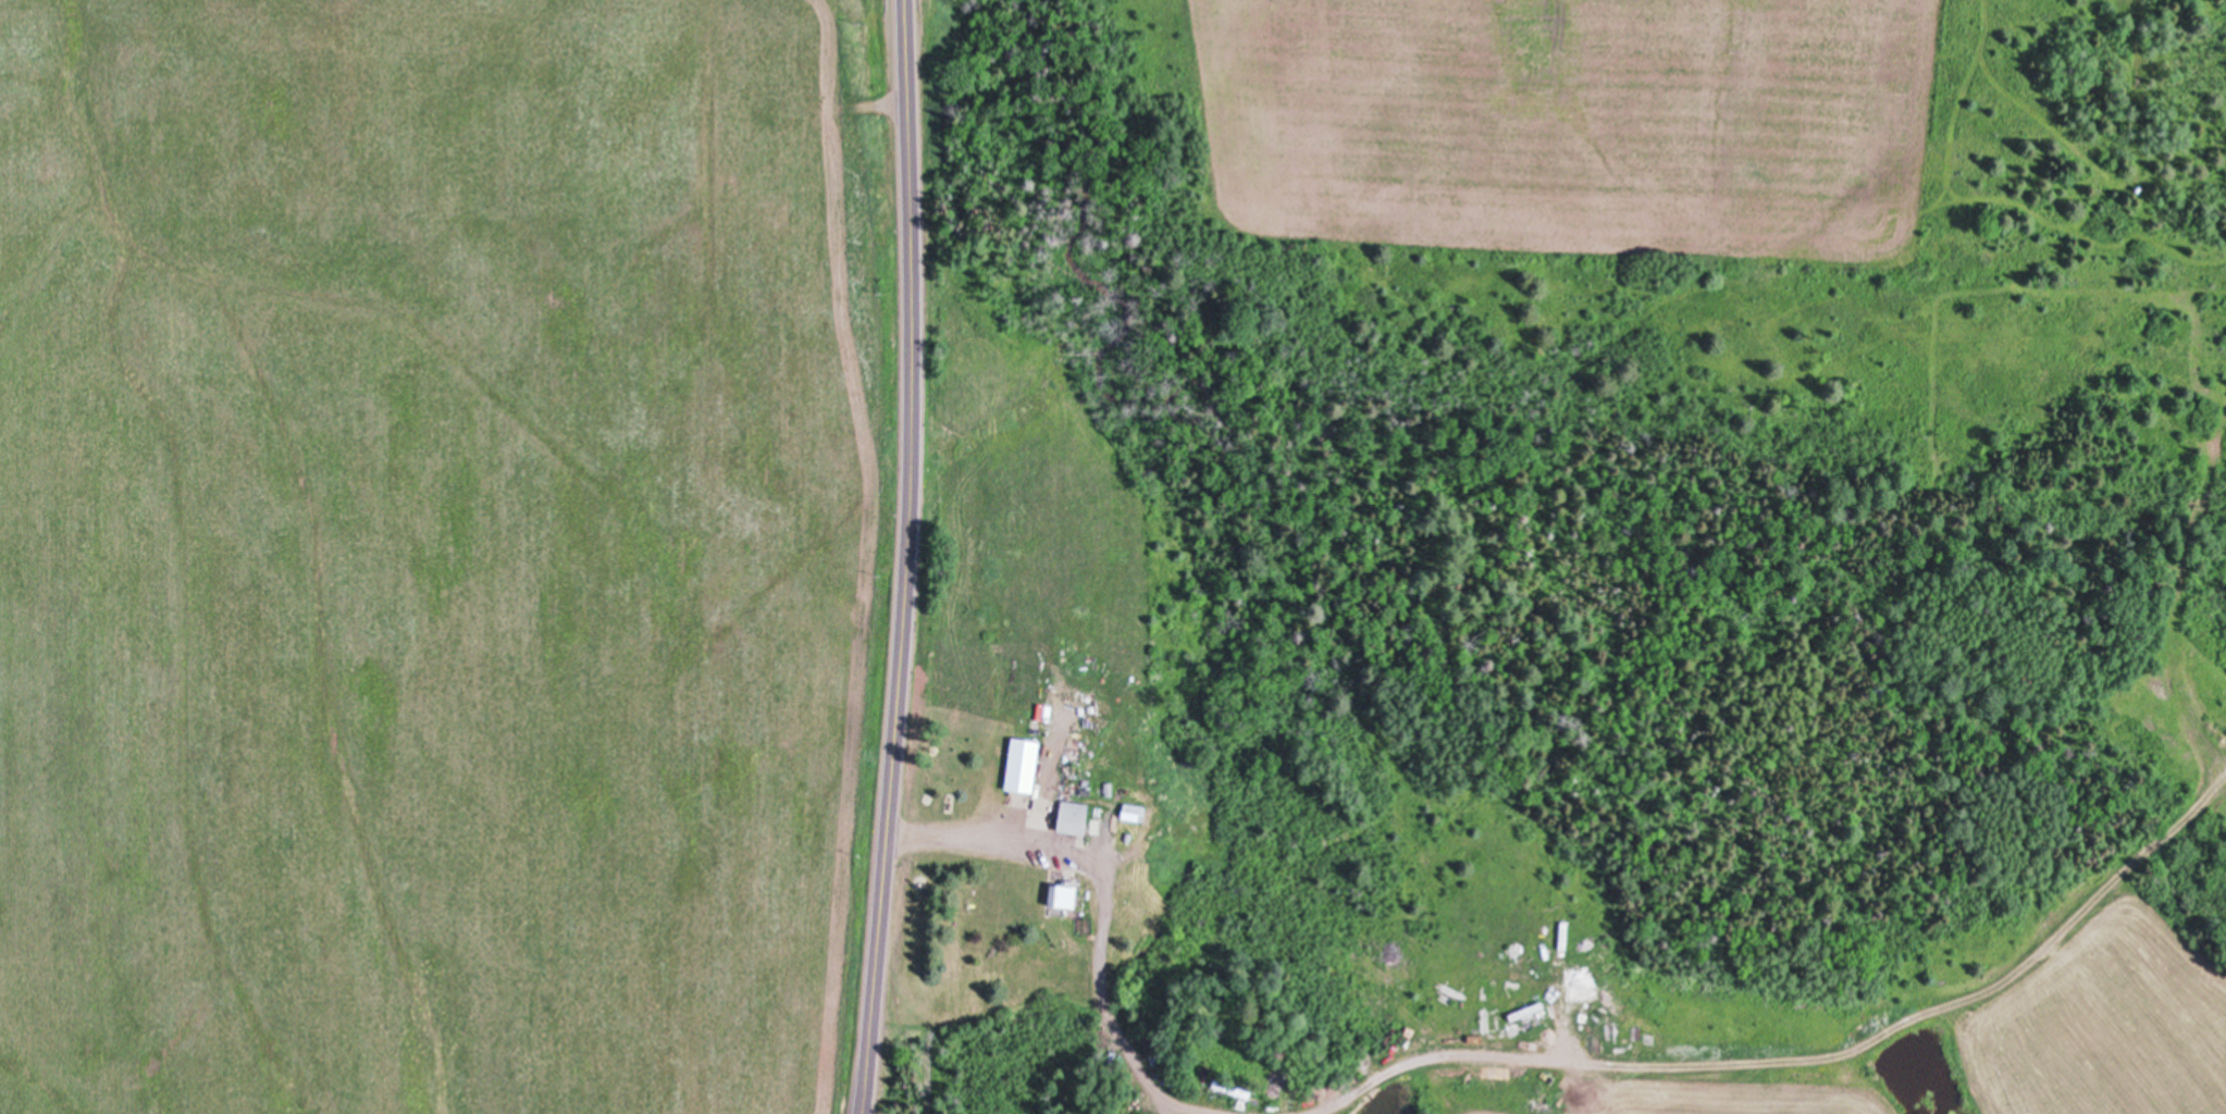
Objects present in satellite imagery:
road: (905, 557)
building: (1022, 763)
building: (1108, 788)
building: (1131, 809)
building: (1072, 815)
building: (1062, 891)
road: (1104, 915)
road: (1443, 1052)
building: (1231, 1087)
building: (1593, 1091)

